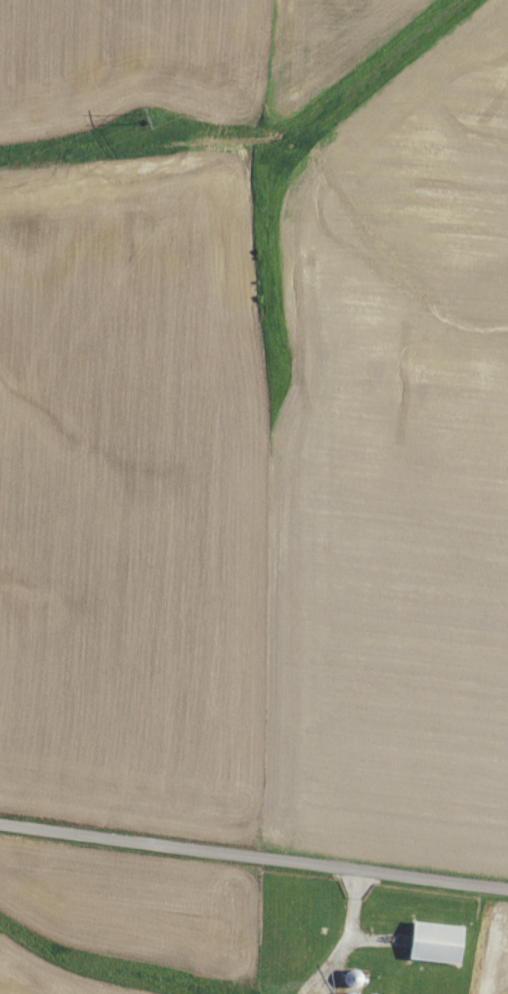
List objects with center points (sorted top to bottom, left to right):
road: (254, 859)
building: (431, 942)

